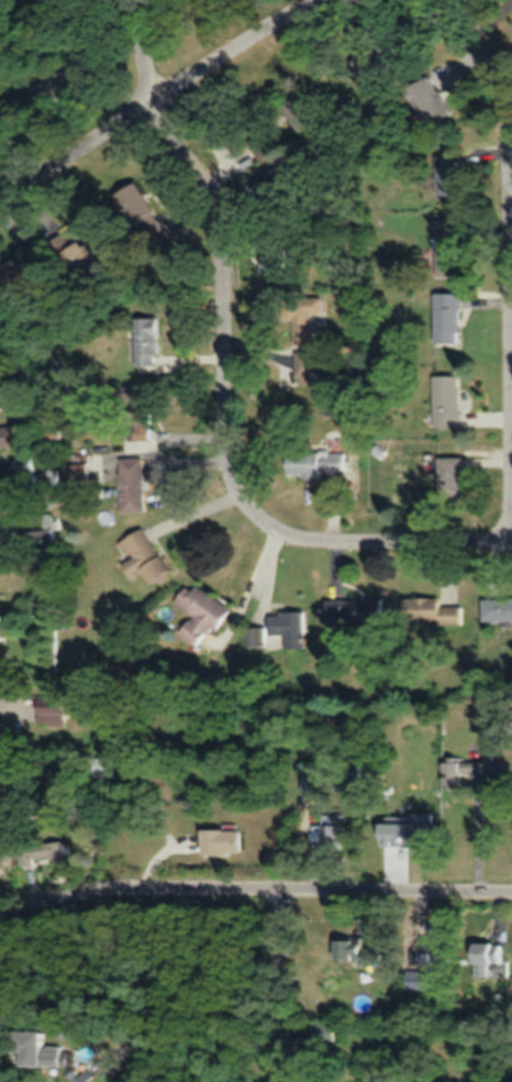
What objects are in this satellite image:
building: (372, 59)
road: (205, 75)
building: (427, 99)
building: (305, 106)
building: (446, 175)
building: (138, 214)
road: (220, 238)
building: (446, 247)
building: (272, 256)
road: (510, 262)
building: (11, 276)
building: (301, 316)
building: (445, 318)
building: (145, 341)
building: (305, 367)
building: (445, 400)
building: (140, 413)
building: (9, 435)
building: (310, 462)
building: (79, 472)
building: (34, 474)
building: (447, 477)
building: (131, 484)
building: (48, 528)
road: (366, 542)
building: (141, 556)
building: (496, 609)
building: (355, 610)
building: (427, 610)
building: (199, 611)
building: (288, 627)
building: (0, 632)
building: (256, 636)
building: (51, 713)
building: (329, 829)
building: (422, 833)
building: (219, 840)
road: (254, 890)
building: (355, 951)
building: (483, 956)
building: (435, 957)
road: (282, 985)
building: (35, 1050)

